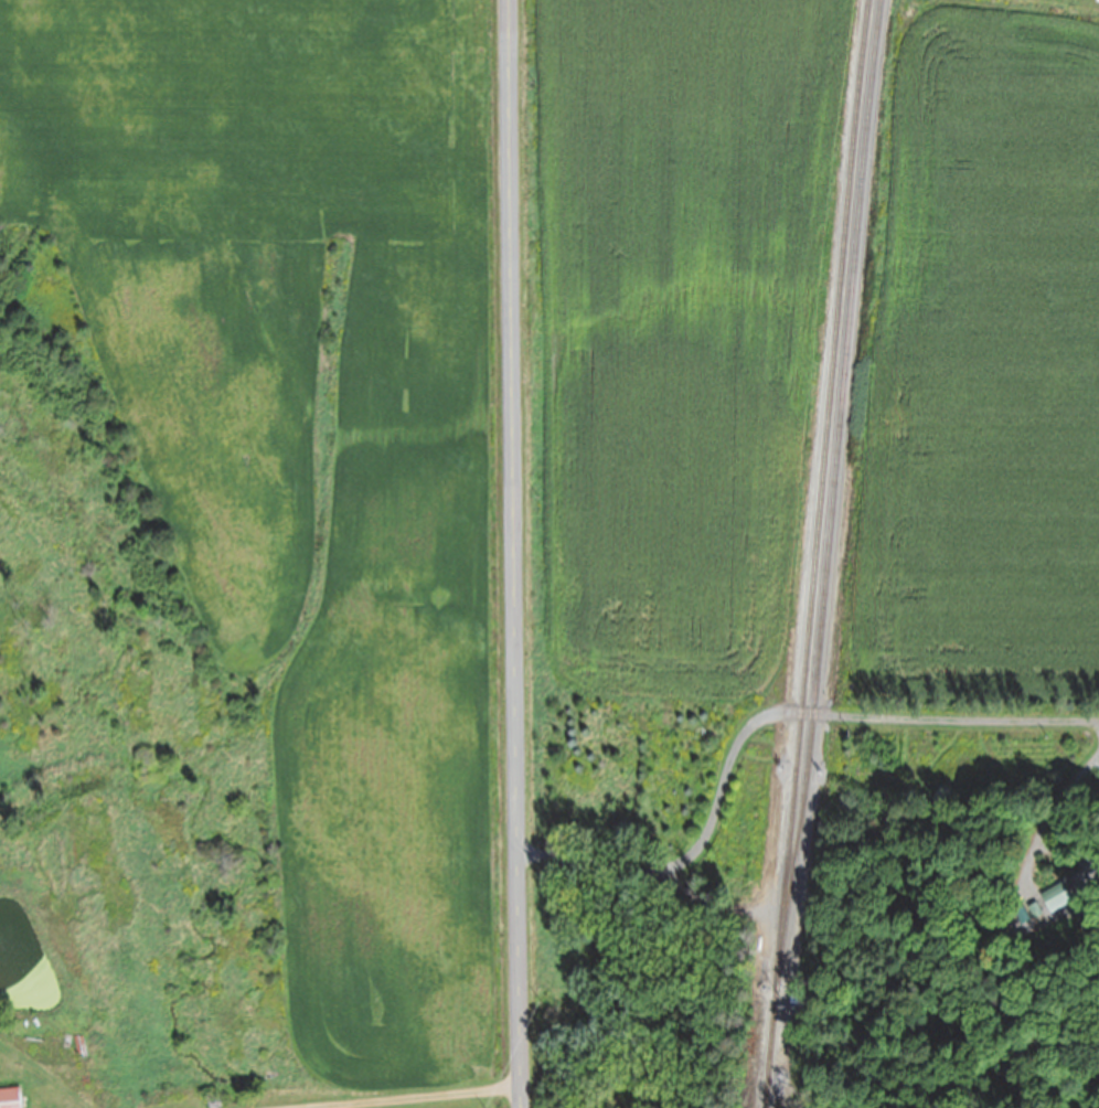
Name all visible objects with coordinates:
railway: (832, 493)
railway: (814, 553)
road: (513, 554)
road: (762, 720)
building: (1070, 899)
road: (367, 1097)
building: (9, 1098)

